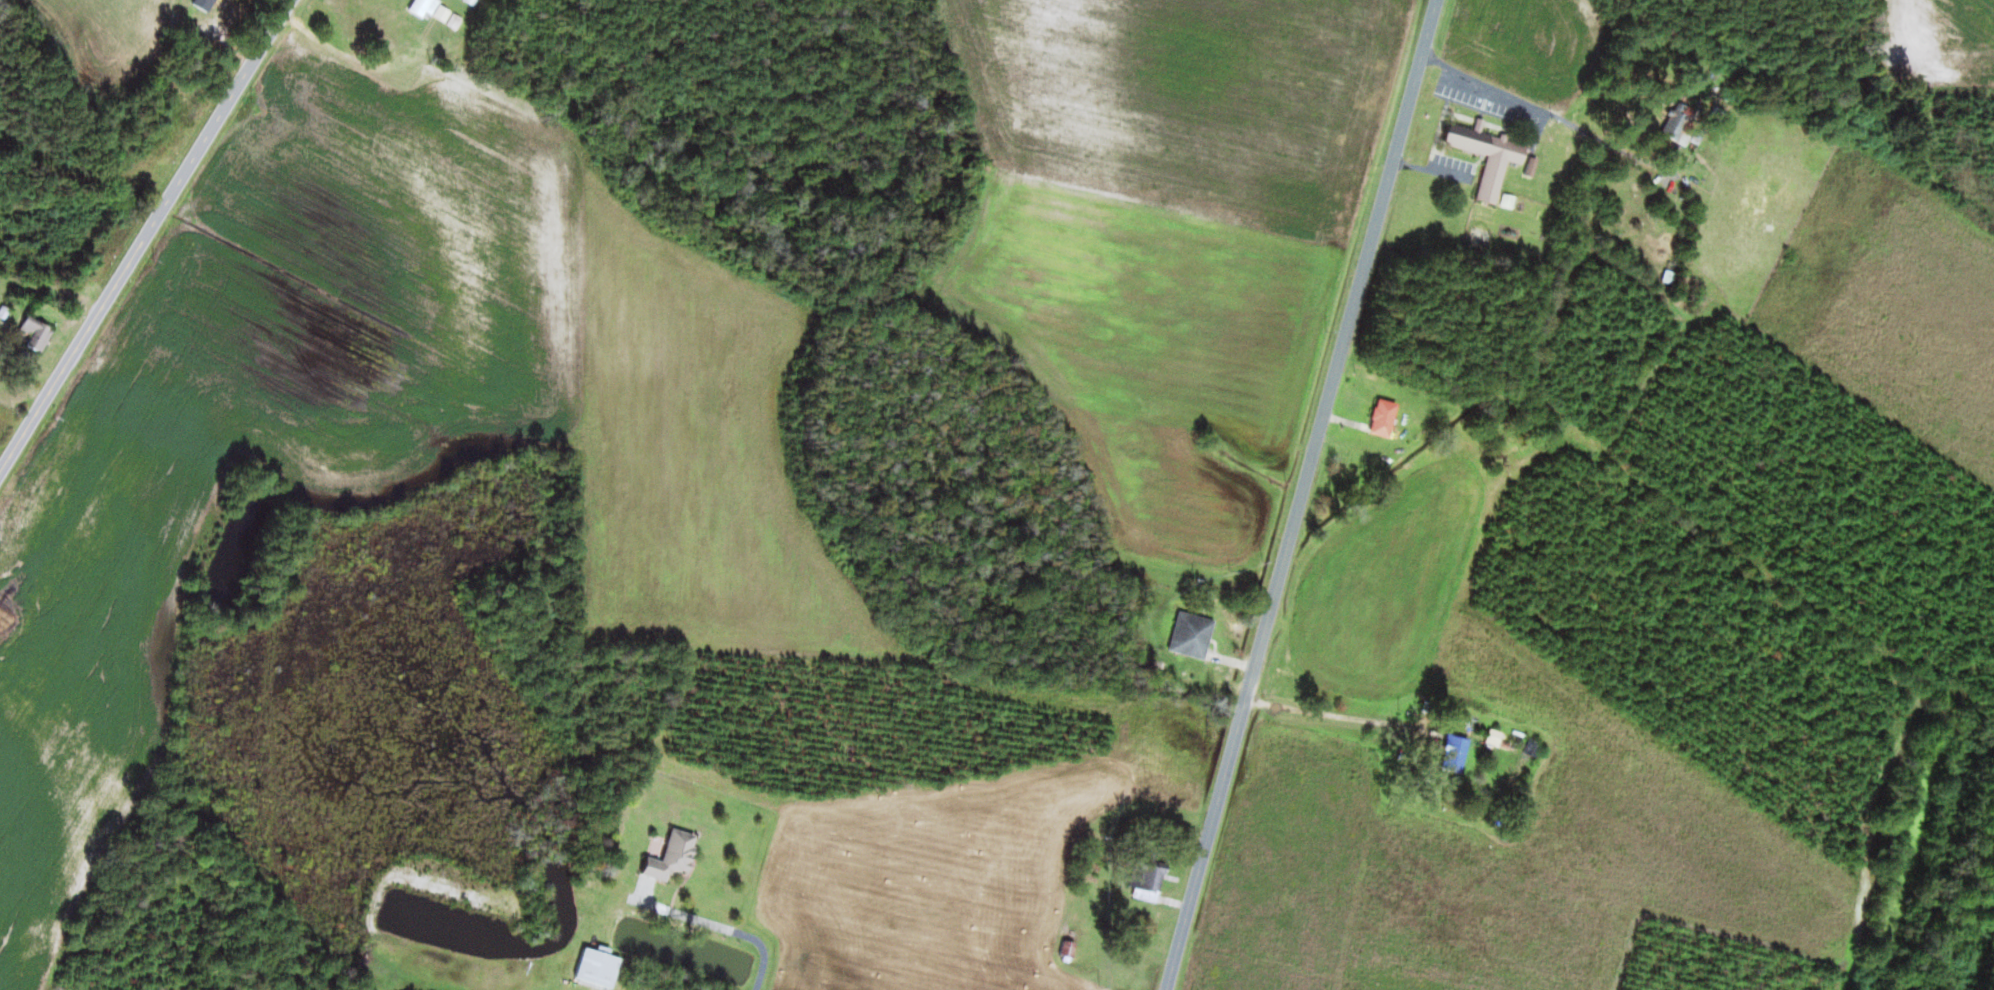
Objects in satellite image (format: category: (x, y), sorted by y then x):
building: (422, 6)
building: (1682, 126)
building: (1491, 151)
building: (141, 168)
road: (145, 235)
building: (37, 333)
building: (1387, 417)
road: (1301, 494)
building: (1194, 635)
building: (1457, 752)
building: (675, 856)
building: (1148, 878)
building: (1072, 946)
building: (600, 967)

